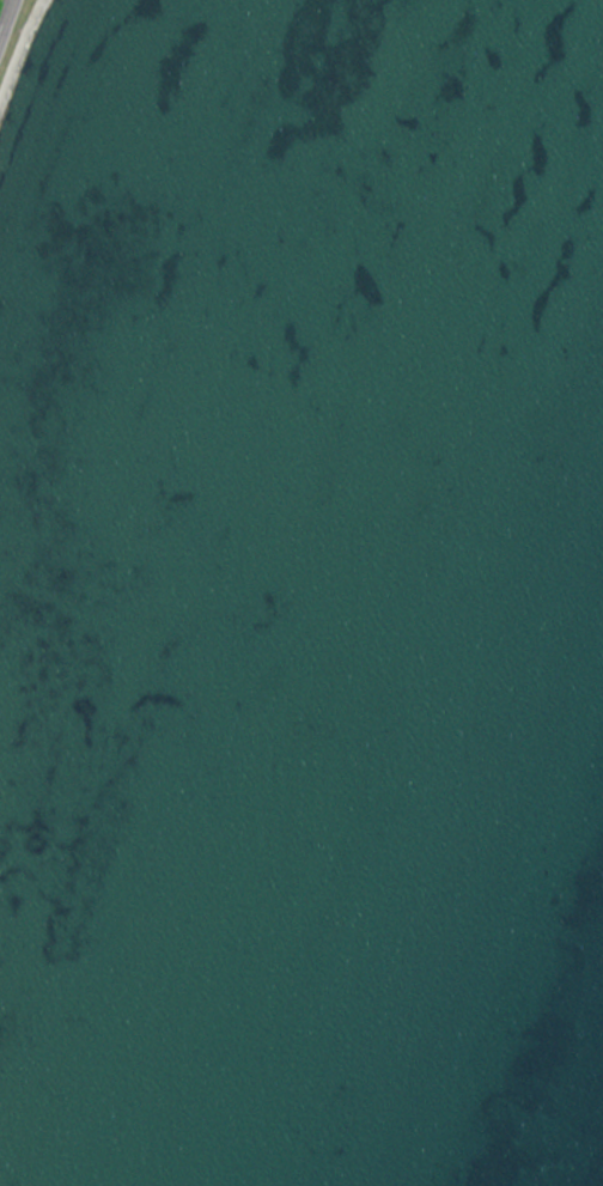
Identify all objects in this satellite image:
road: (4, 11)

